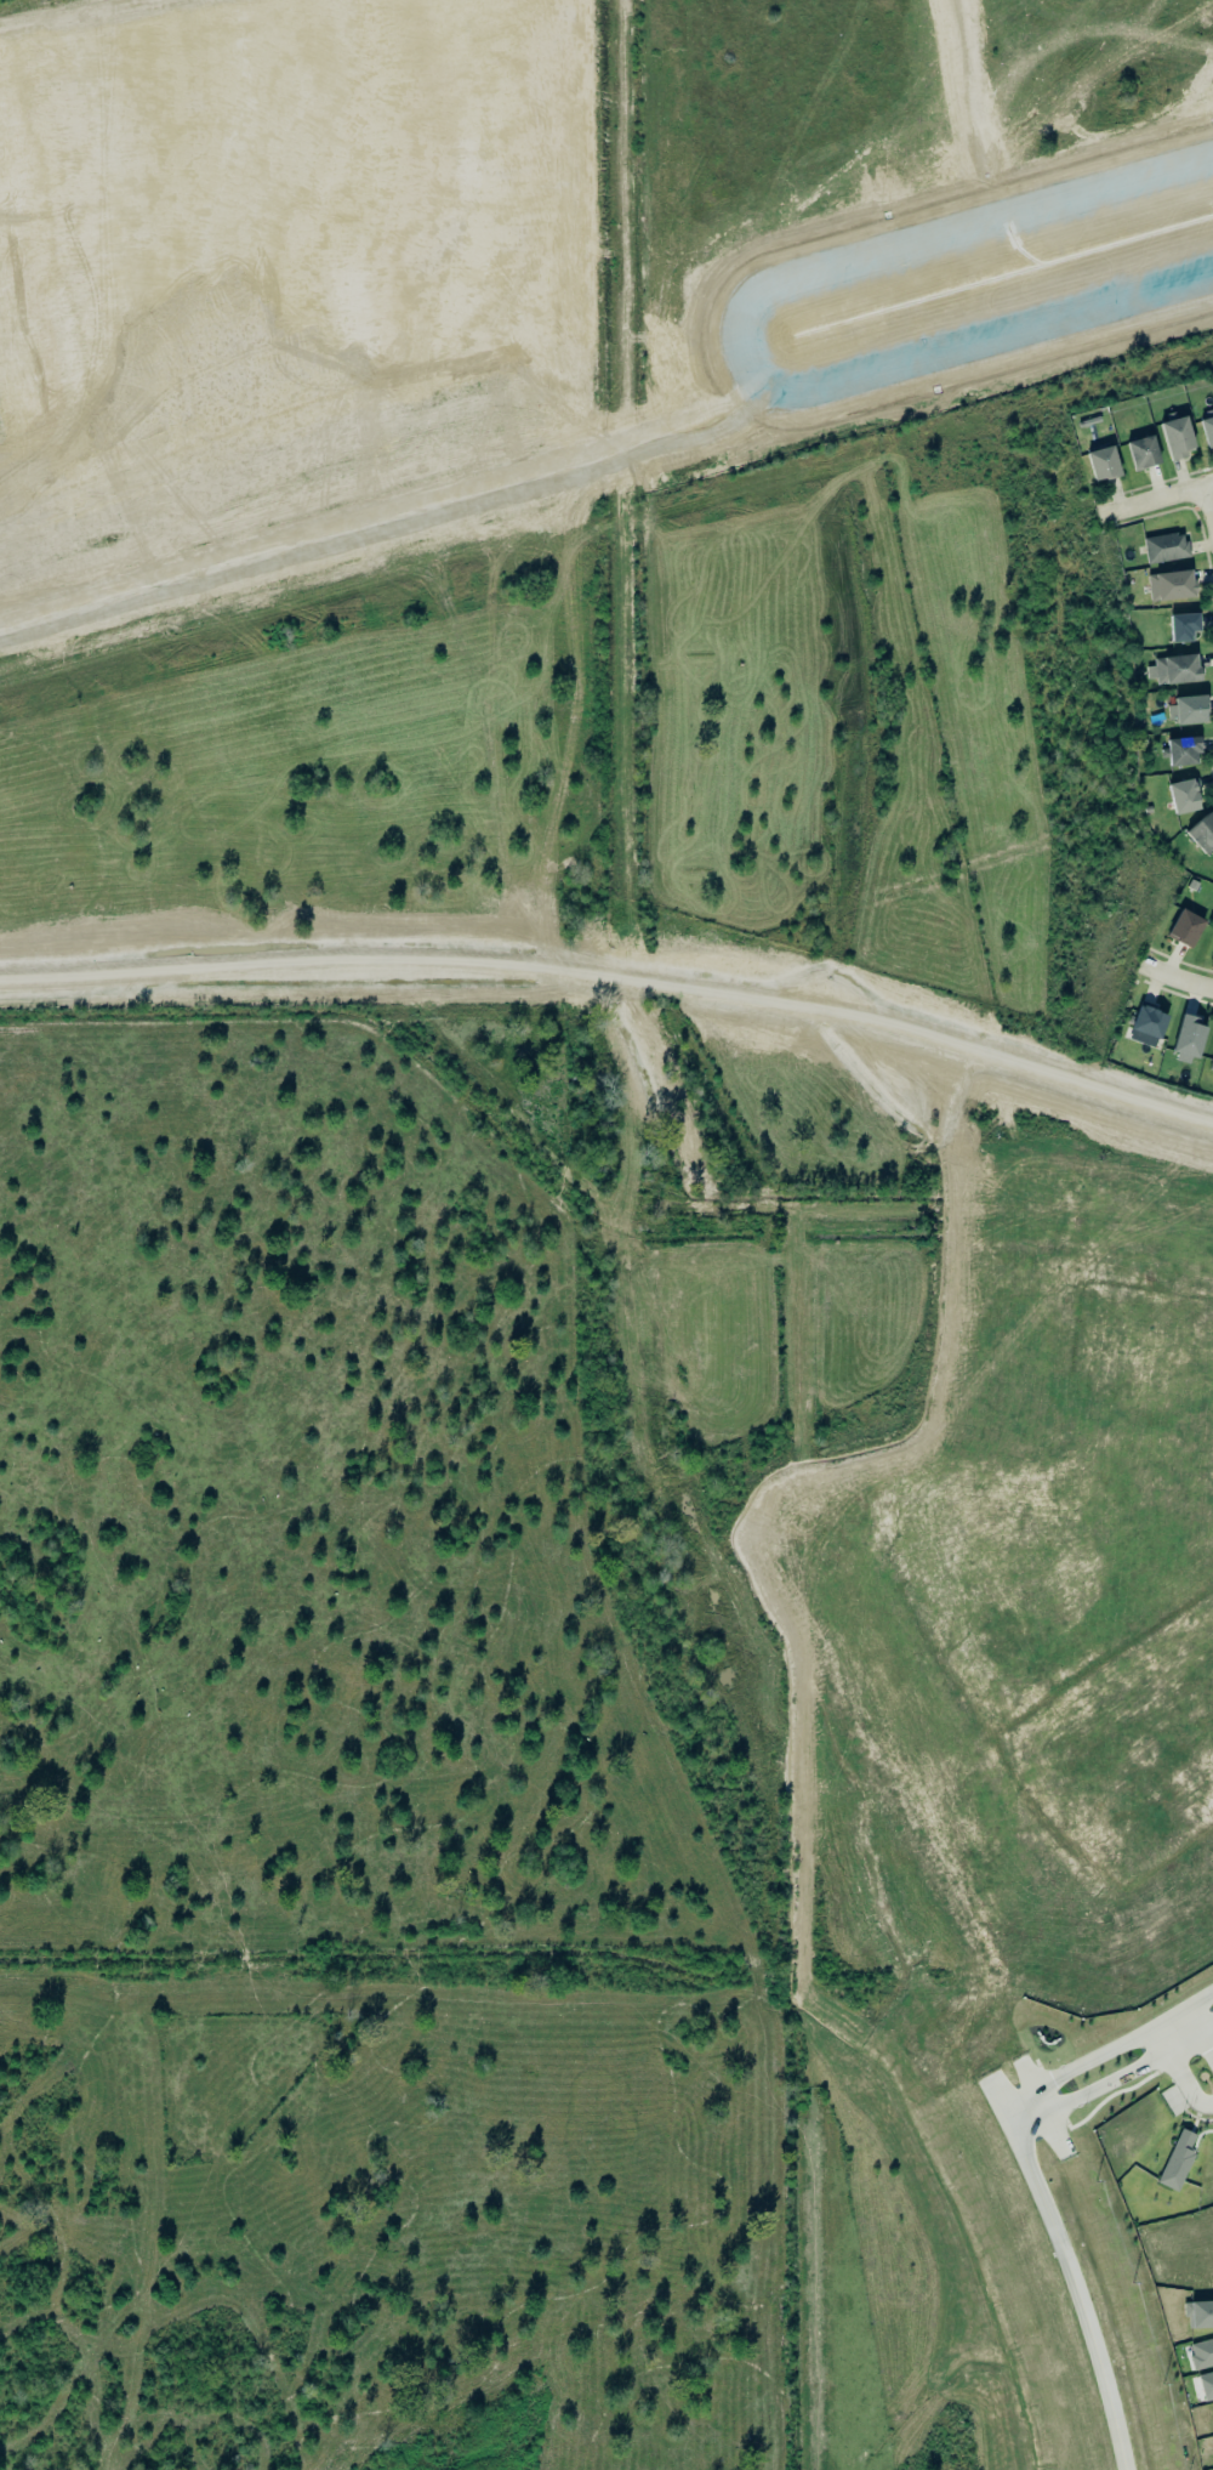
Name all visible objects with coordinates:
building: (1207, 431)
building: (1177, 437)
building: (1140, 450)
building: (1101, 462)
road: (1212, 493)
road: (1157, 501)
building: (1166, 547)
building: (1168, 585)
building: (1183, 626)
building: (1172, 669)
building: (1185, 708)
building: (1179, 750)
building: (1184, 795)
building: (1201, 831)
building: (1185, 927)
road: (1178, 975)
road: (867, 1013)
building: (1144, 1024)
building: (1184, 1038)
building: (1211, 1060)
road: (928, 1072)
road: (677, 1222)
road: (1061, 1270)
road: (689, 1418)
road: (711, 1554)
road: (940, 1656)
road: (1009, 1762)
road: (1197, 2020)
road: (1208, 2029)
road: (1164, 2039)
road: (1188, 2042)
road: (1208, 2042)
road: (1110, 2050)
road: (1186, 2084)
road: (1093, 2091)
building: (1178, 2160)
road: (1071, 2284)
building: (1198, 2313)
building: (1201, 2353)
building: (1206, 2385)

